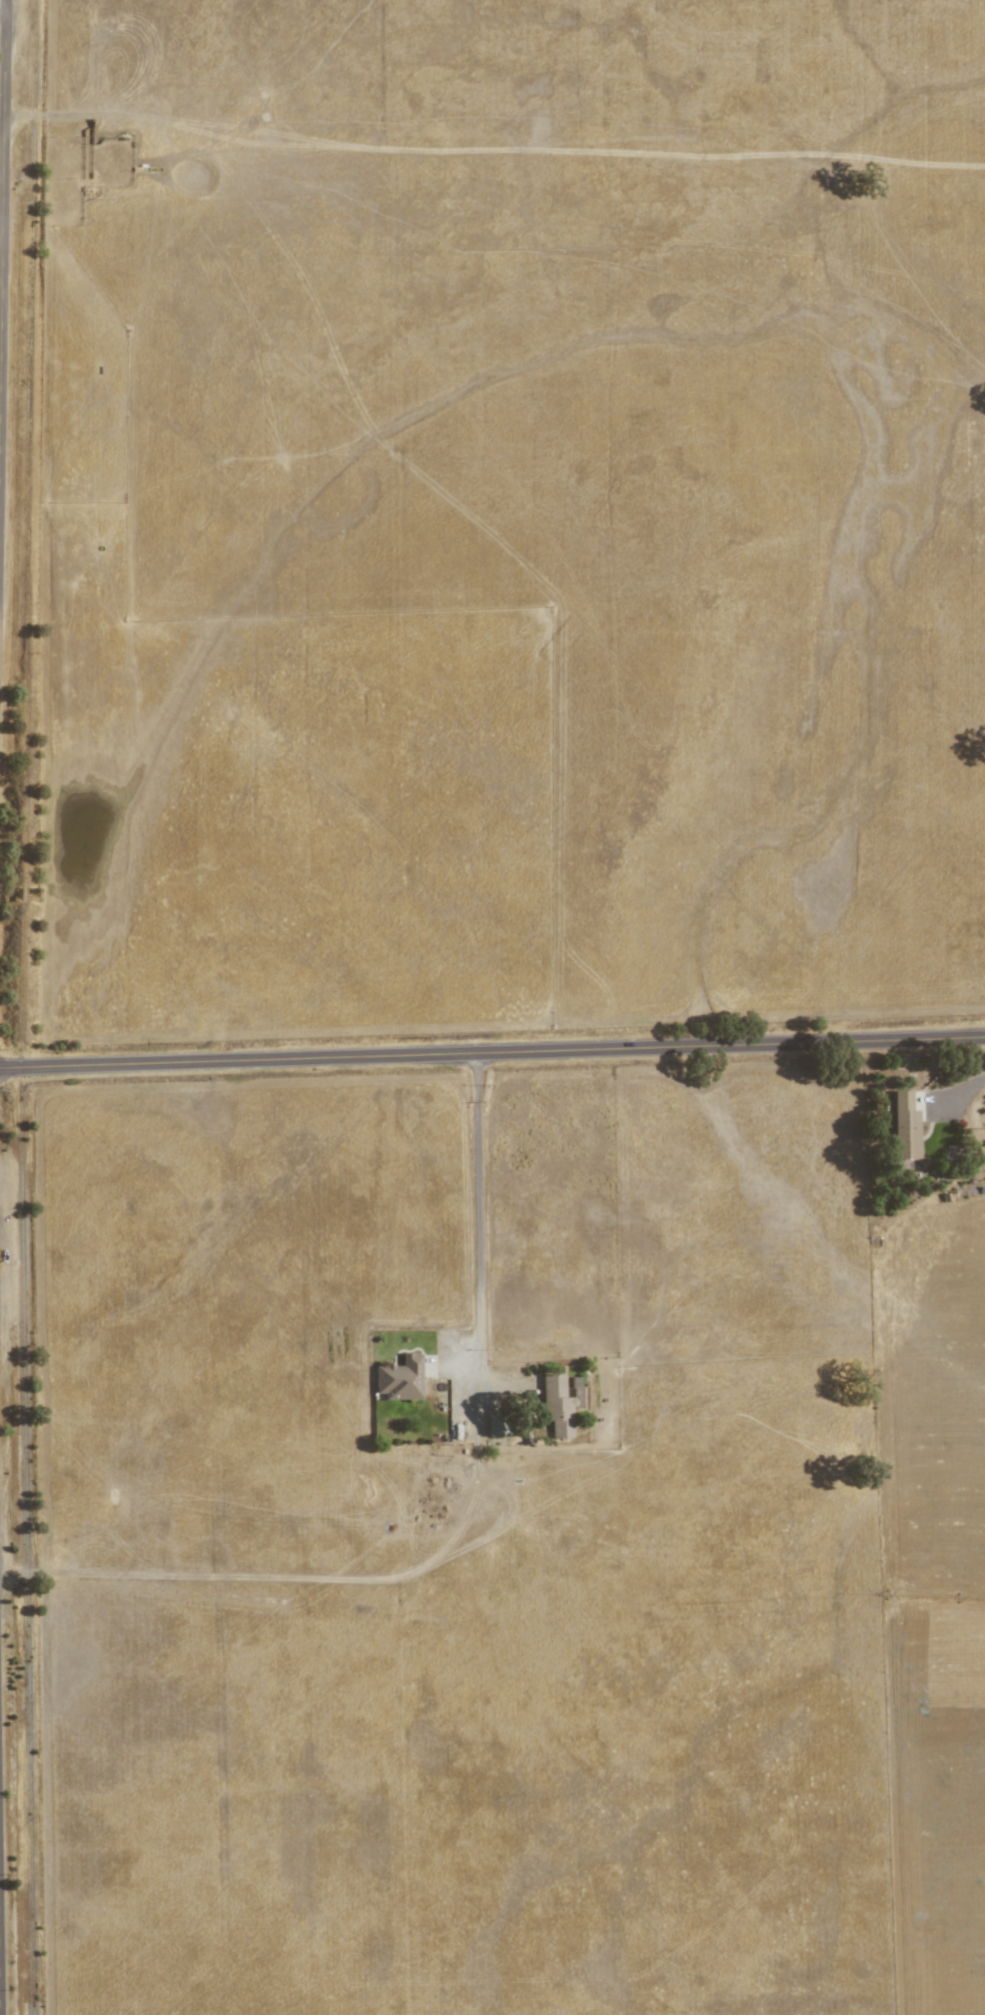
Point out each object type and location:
road: (1, 107)
road: (3, 196)
road: (1, 216)
road: (492, 1054)
road: (961, 1089)
building: (904, 1127)
road: (478, 1227)
building: (559, 1408)
road: (305, 1580)
road: (0, 1977)

